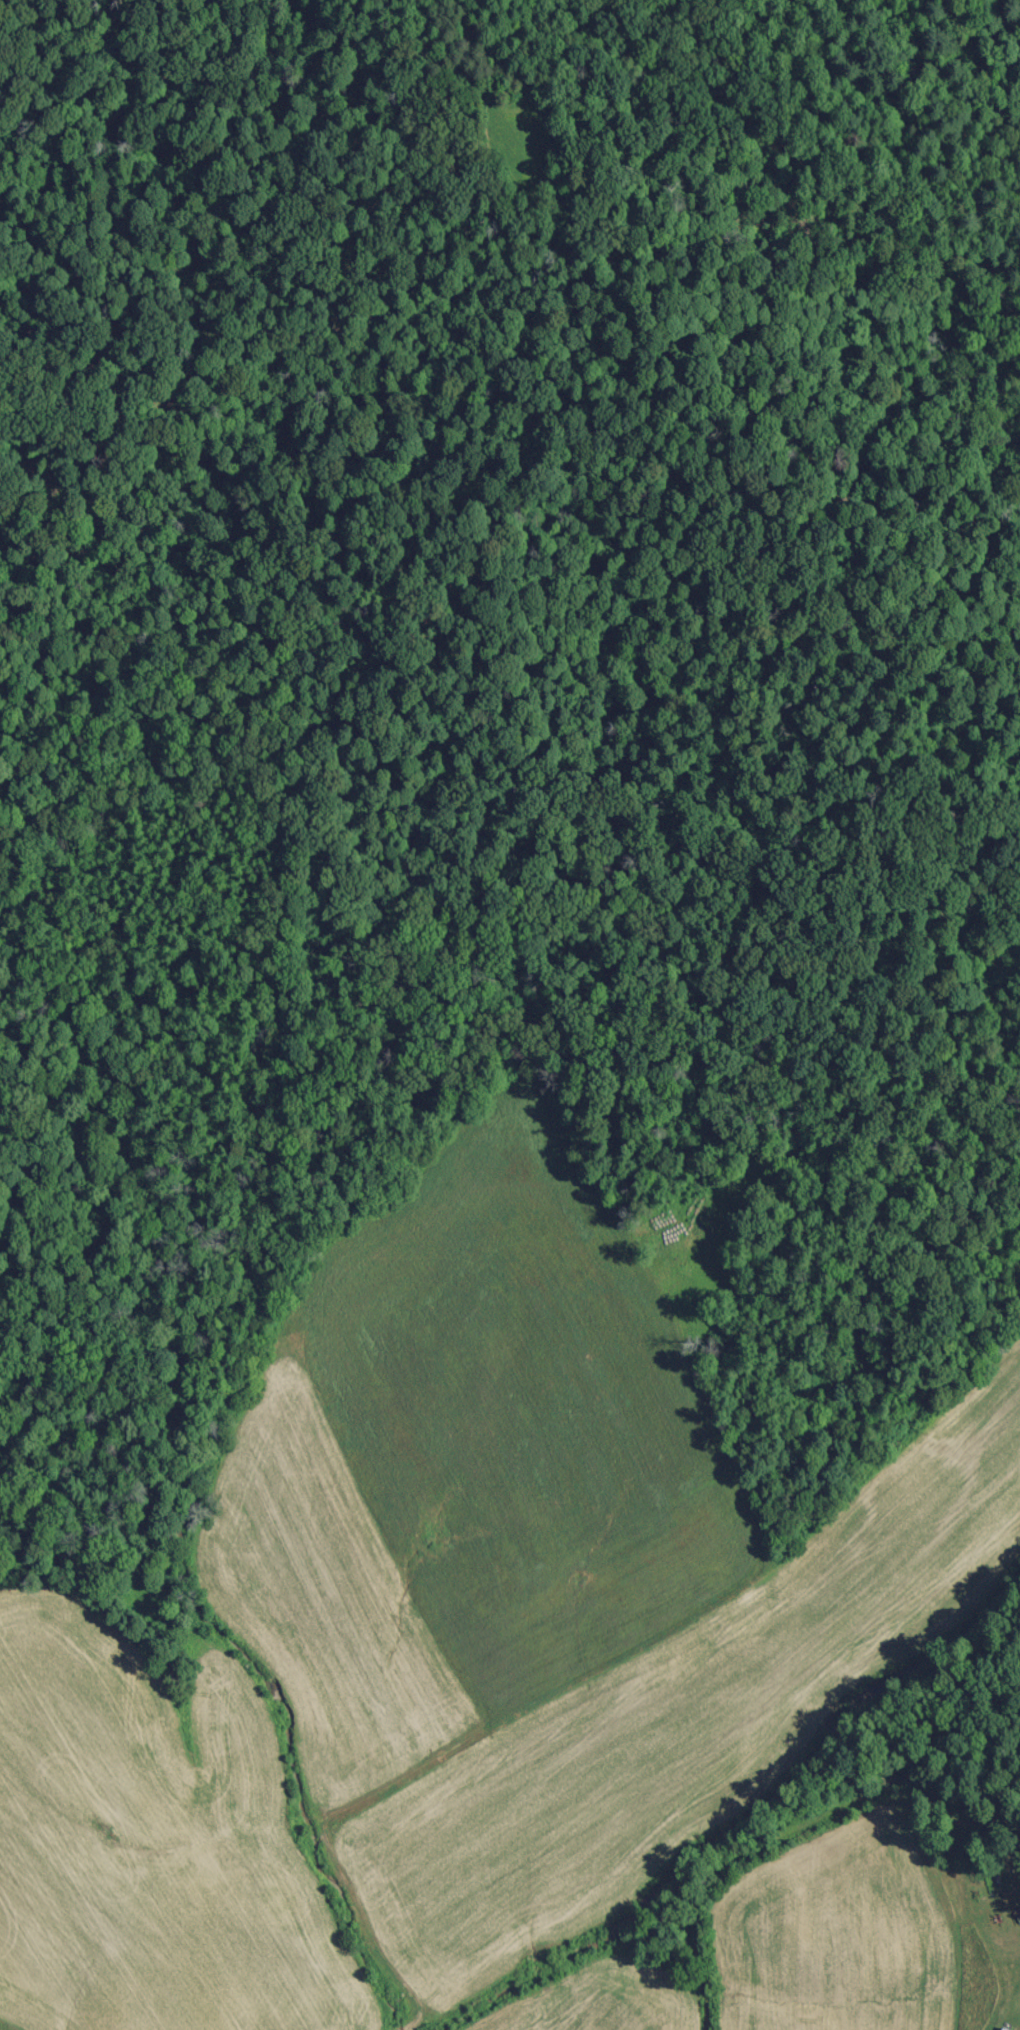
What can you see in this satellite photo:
road: (842, 1818)
building: (1003, 2028)

